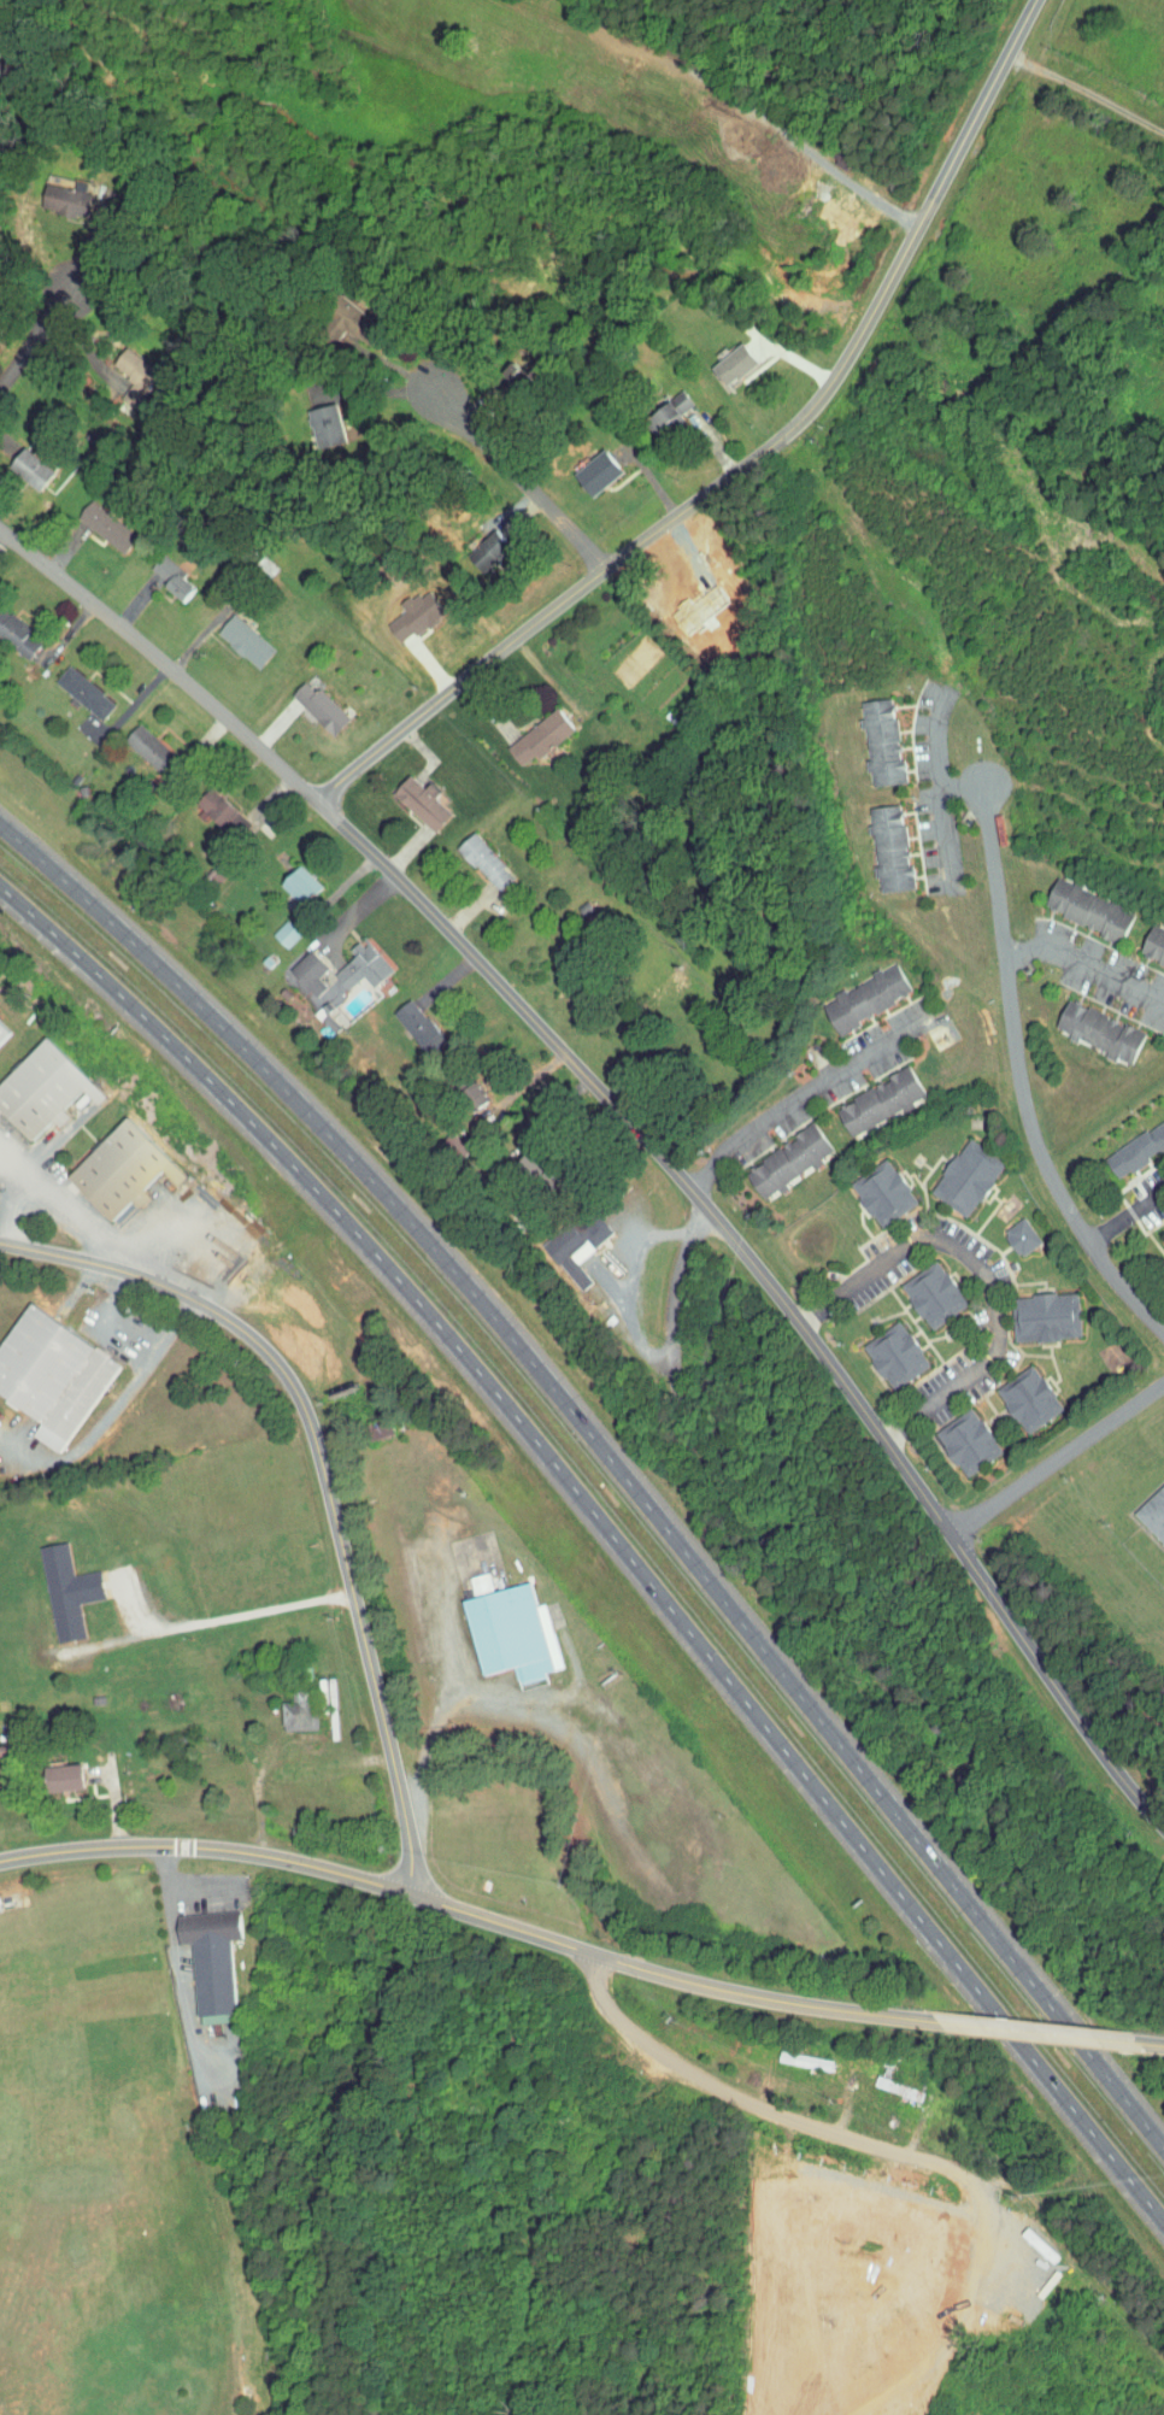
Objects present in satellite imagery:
road: (1084, 90)
road: (727, 95)
building: (49, 192)
building: (327, 312)
road: (39, 331)
building: (717, 357)
building: (118, 359)
building: (651, 405)
building: (310, 418)
road: (482, 443)
road: (746, 460)
building: (14, 462)
building: (578, 466)
building: (88, 518)
building: (470, 545)
building: (154, 570)
building: (7, 631)
building: (228, 634)
building: (67, 686)
building: (302, 700)
building: (523, 730)
building: (863, 734)
building: (131, 740)
road: (958, 789)
building: (404, 795)
road: (934, 795)
building: (206, 806)
building: (871, 841)
building: (468, 854)
building: (282, 877)
building: (1070, 903)
building: (270, 927)
building: (1145, 941)
building: (346, 958)
building: (300, 973)
road: (1082, 977)
building: (848, 991)
building: (401, 1017)
building: (1081, 1022)
building: (30, 1081)
road: (1013, 1083)
building: (457, 1085)
road: (794, 1086)
building: (863, 1093)
road: (637, 1126)
building: (1128, 1138)
building: (771, 1153)
building: (102, 1162)
building: (950, 1169)
building: (865, 1185)
road: (64, 1199)
road: (11, 1206)
road: (1125, 1214)
building: (1004, 1228)
building: (1159, 1230)
building: (560, 1236)
road: (45, 1251)
road: (1015, 1280)
building: (916, 1286)
road: (110, 1298)
building: (1028, 1309)
building: (878, 1347)
road: (646, 1353)
building: (40, 1369)
building: (1011, 1391)
road: (117, 1403)
building: (950, 1434)
road: (1056, 1453)
road: (612, 1458)
building: (1147, 1509)
road: (336, 1518)
road: (607, 1529)
building: (463, 1574)
building: (51, 1582)
road: (233, 1608)
building: (494, 1626)
building: (280, 1704)
road: (434, 1717)
road: (280, 1759)
building: (43, 1769)
road: (201, 1891)
road: (480, 1916)
building: (194, 1952)
road: (176, 1953)
road: (1042, 2038)
road: (1146, 2049)
building: (789, 2052)
building: (884, 2084)
road: (876, 2139)
building: (913, 2247)
road: (952, 2319)

